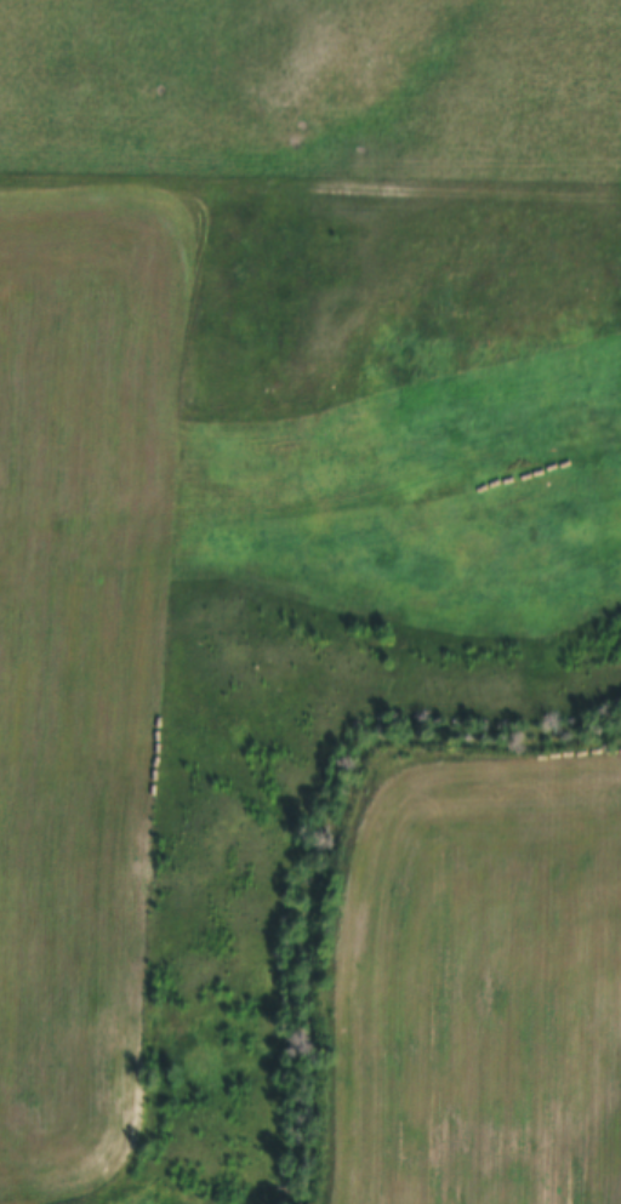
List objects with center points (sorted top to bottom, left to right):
road: (309, 172)

